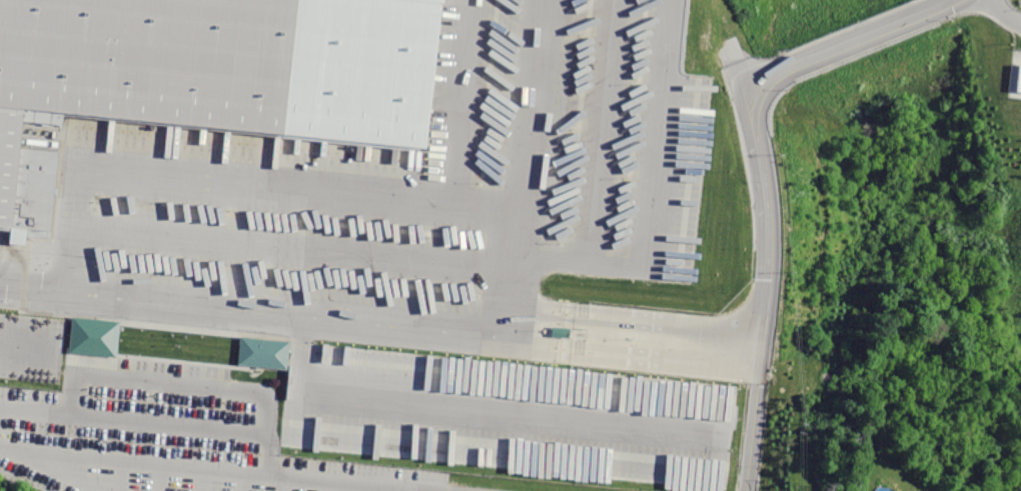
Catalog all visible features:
road: (1004, 11)
building: (208, 75)
building: (1019, 81)
road: (457, 98)
road: (752, 114)
road: (604, 130)
road: (522, 166)
road: (239, 178)
road: (650, 198)
road: (294, 251)
road: (252, 307)
road: (635, 313)
building: (93, 336)
road: (544, 338)
road: (28, 348)
road: (671, 352)
building: (265, 354)
road: (189, 382)
road: (34, 409)
road: (470, 414)
road: (169, 423)
road: (753, 426)
road: (52, 467)
road: (218, 469)
road: (120, 475)
road: (160, 477)
road: (205, 479)
road: (245, 481)
road: (283, 483)
road: (325, 485)
road: (367, 488)
road: (408, 490)

